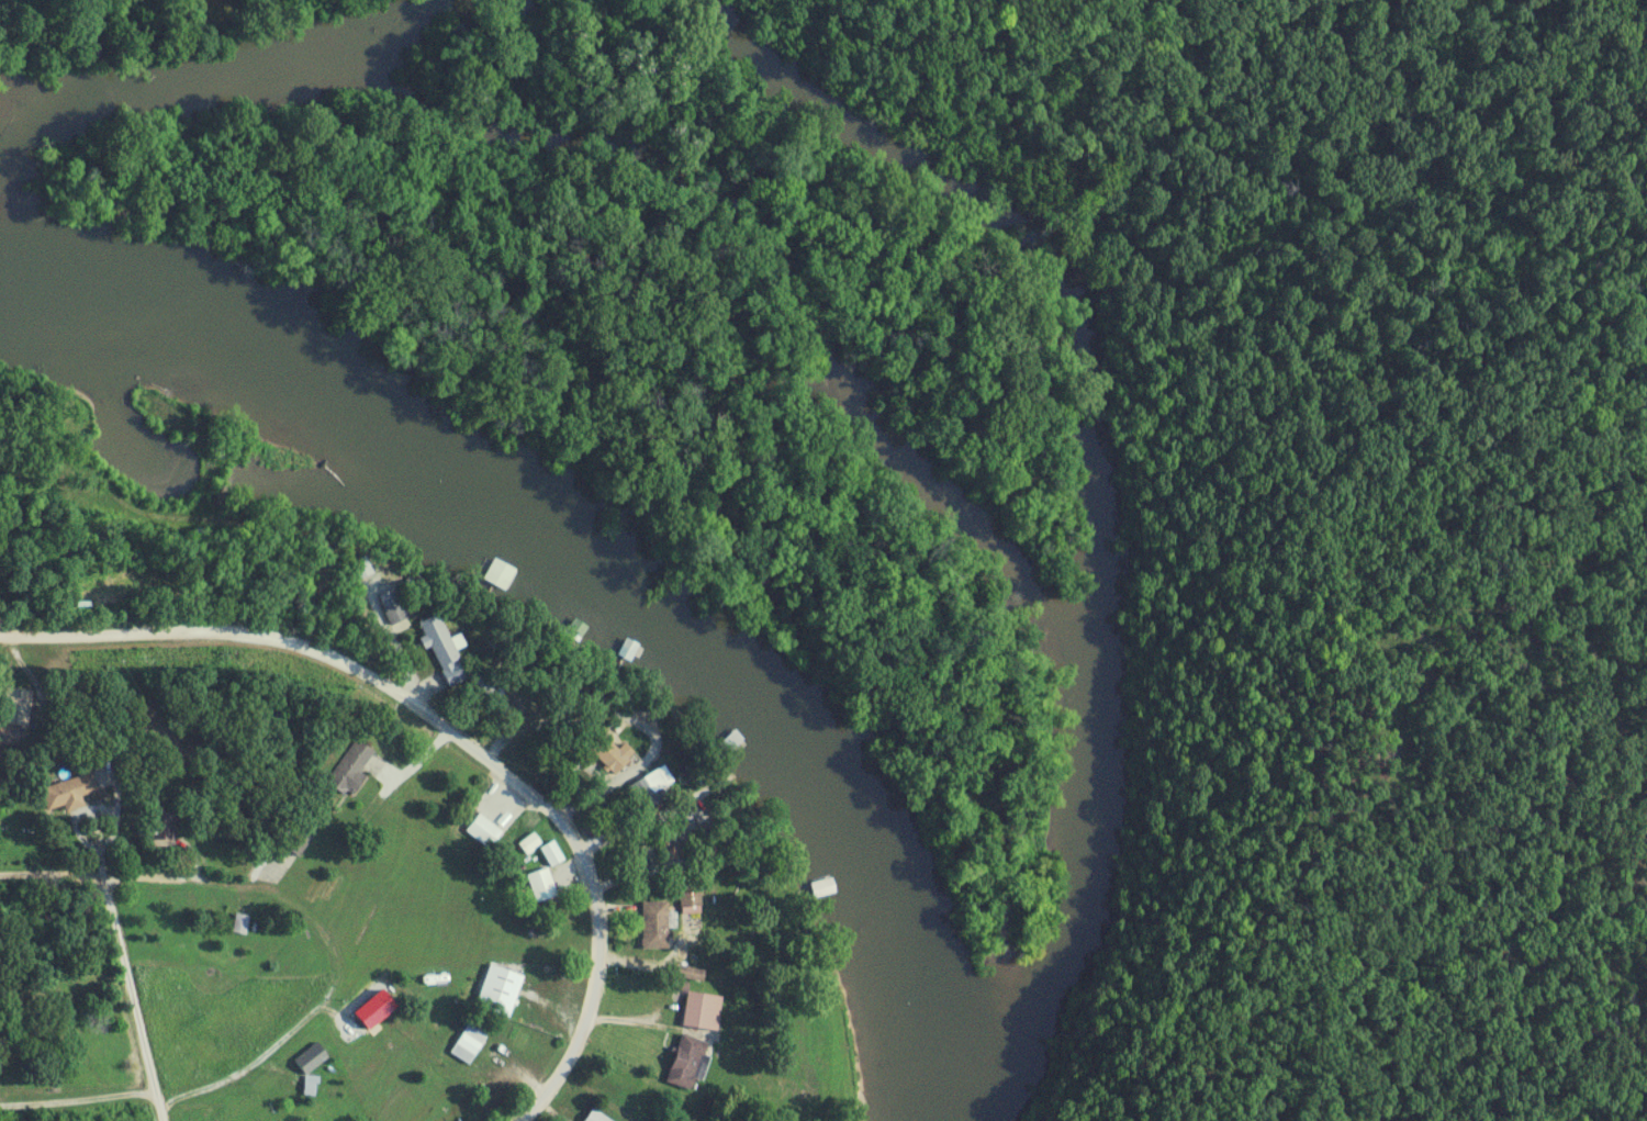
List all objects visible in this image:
river: (593, 587)
building: (396, 618)
building: (442, 648)
building: (628, 650)
building: (493, 696)
building: (18, 707)
road: (448, 731)
building: (567, 736)
building: (351, 769)
building: (649, 793)
building: (69, 794)
building: (164, 829)
building: (484, 831)
building: (530, 844)
building: (553, 854)
building: (542, 886)
building: (691, 896)
road: (300, 906)
building: (242, 923)
building: (656, 926)
building: (692, 974)
road: (128, 985)
building: (501, 991)
building: (702, 1009)
building: (470, 1044)
building: (690, 1063)
road: (648, 1078)
building: (312, 1086)
road: (597, 1096)
road: (83, 1099)
road: (163, 1113)
building: (598, 1118)

